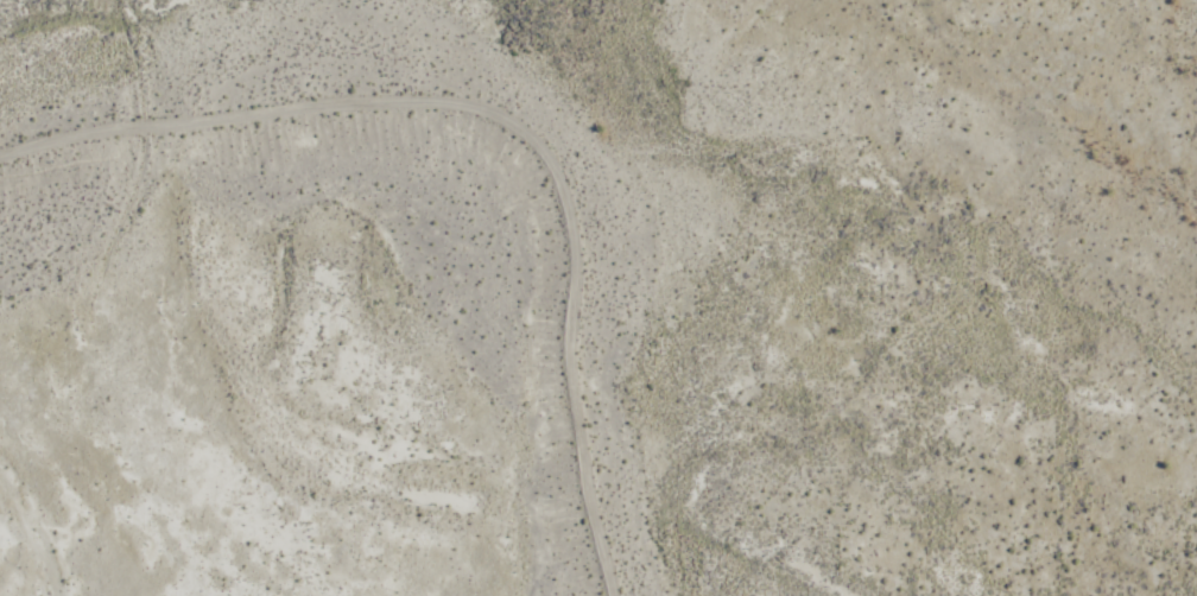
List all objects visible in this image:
road: (489, 126)

